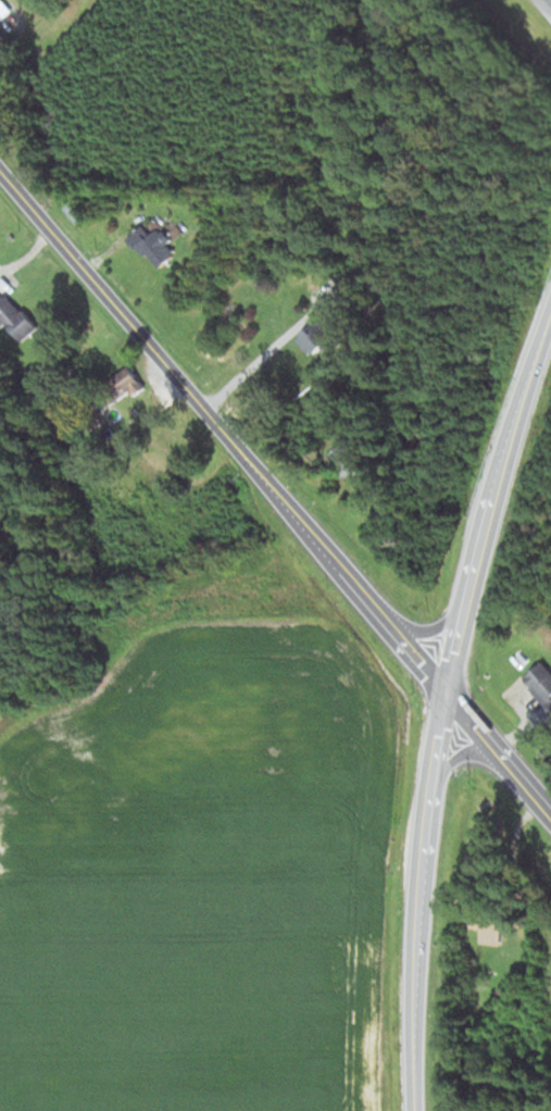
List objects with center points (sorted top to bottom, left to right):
building: (4, 11)
building: (3, 36)
building: (74, 211)
building: (201, 212)
building: (138, 214)
building: (152, 241)
building: (14, 315)
building: (312, 338)
road: (242, 367)
building: (129, 379)
building: (145, 472)
road: (275, 496)
building: (158, 504)
building: (384, 504)
road: (425, 629)
building: (540, 684)
traffic signals: (441, 695)
road: (439, 708)
road: (453, 761)
crop: (198, 860)
building: (491, 927)

